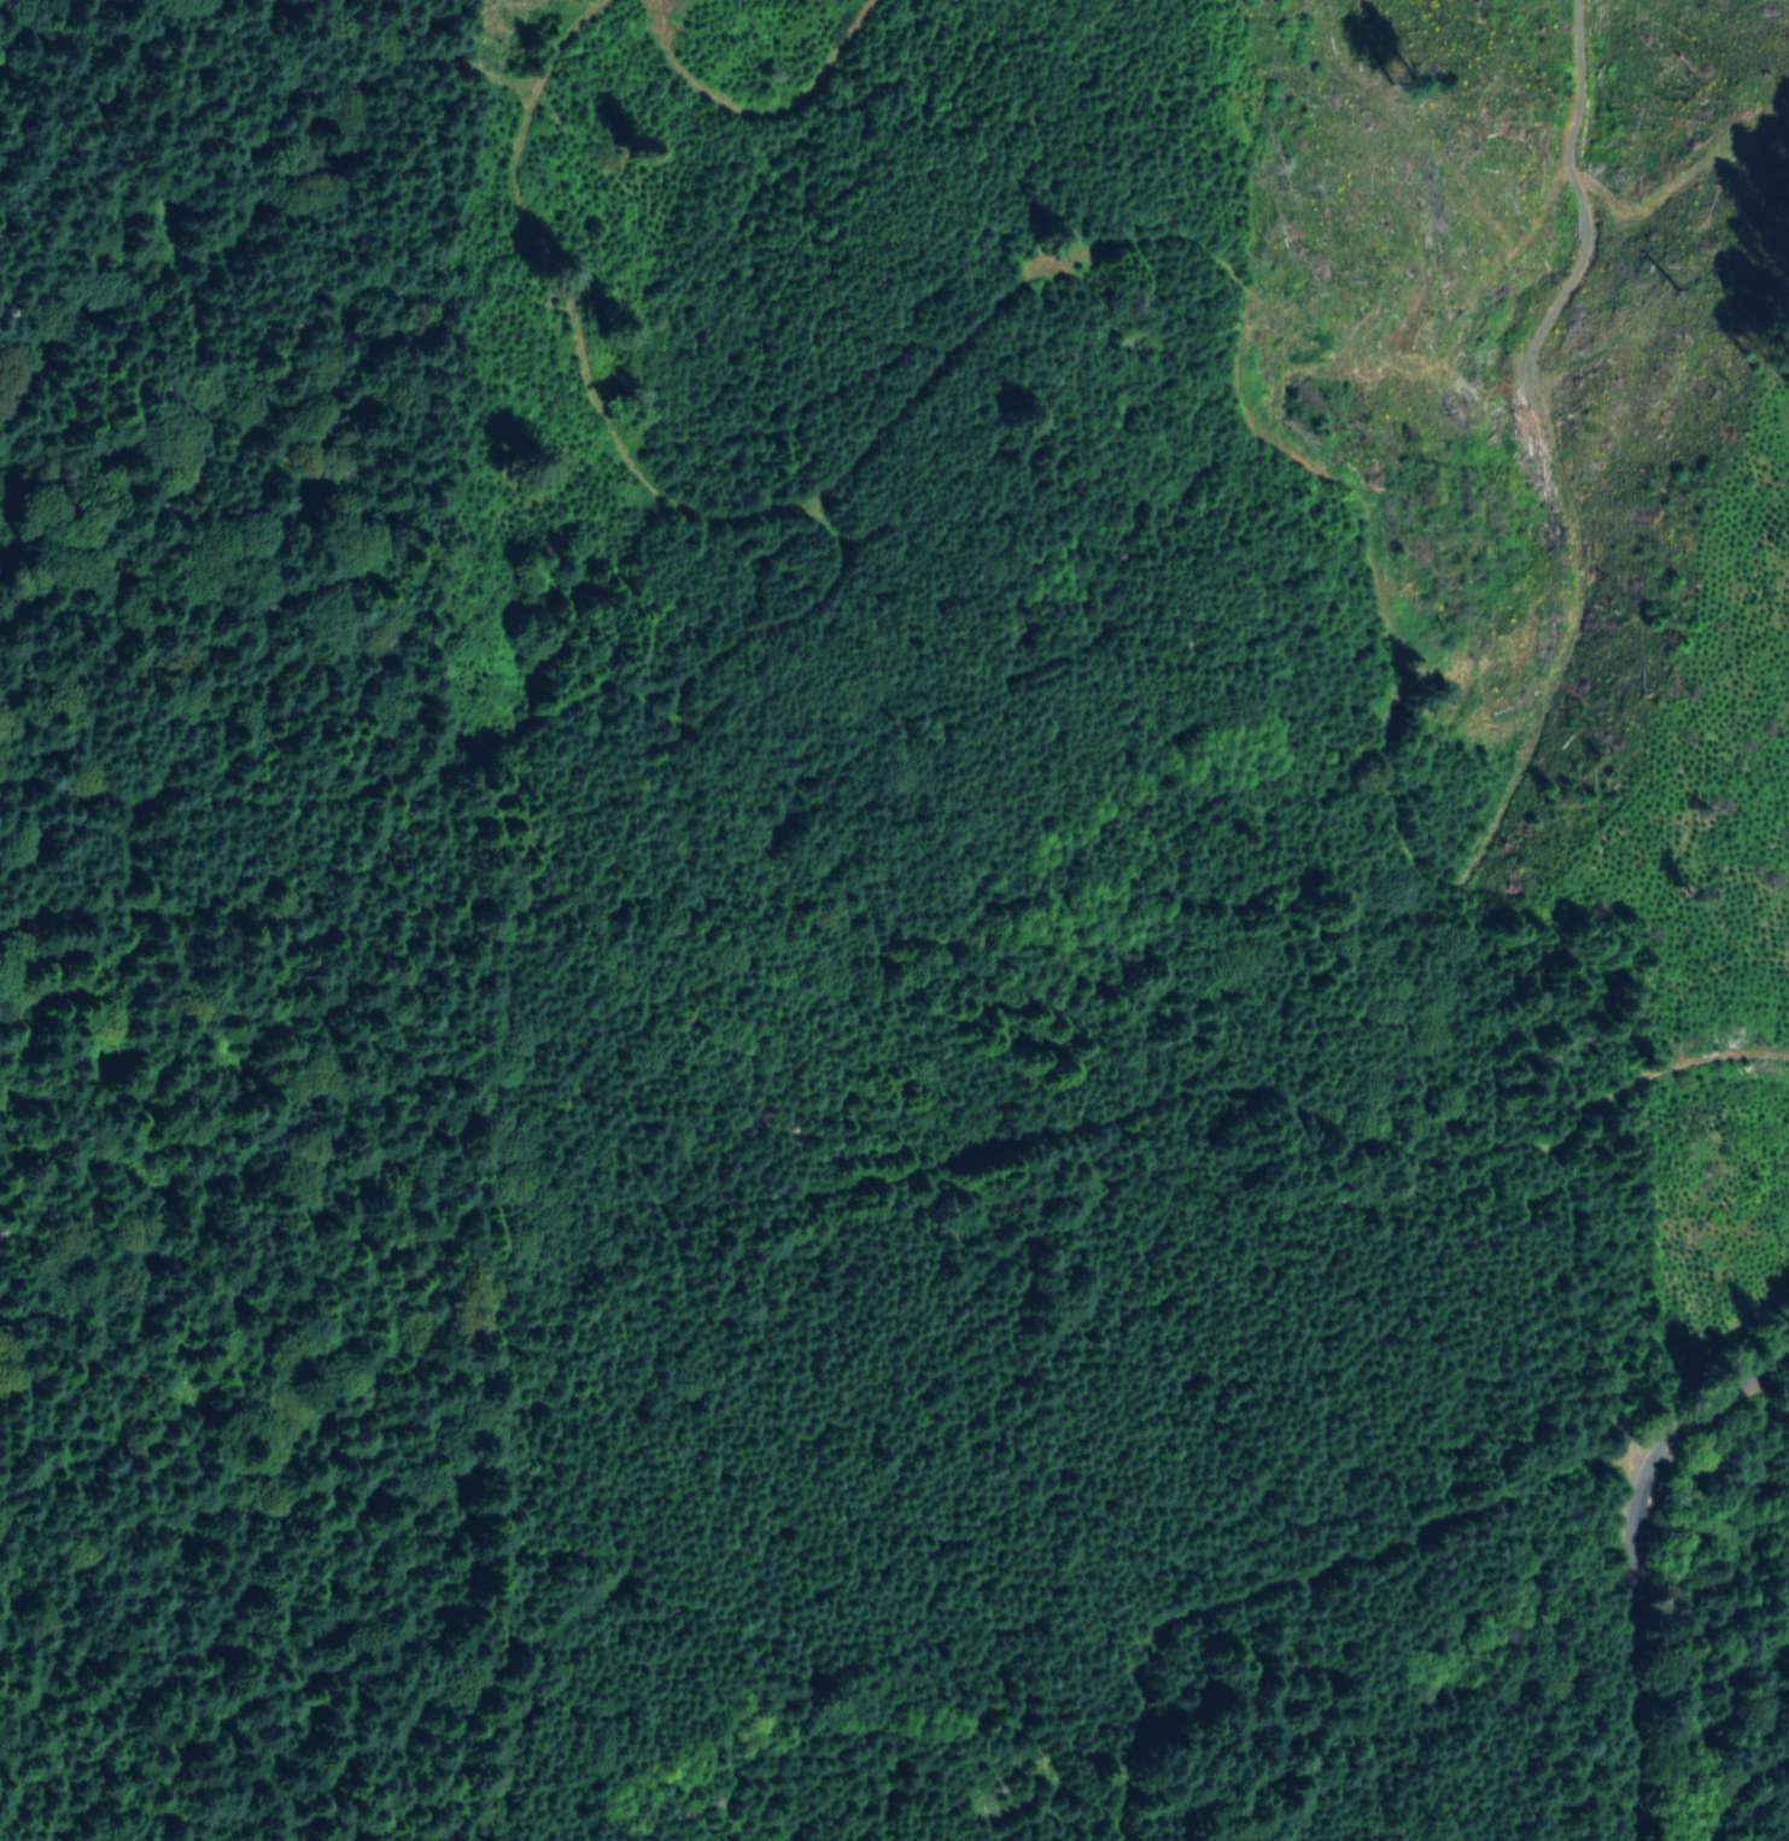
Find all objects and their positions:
road: (1625, 1547)

